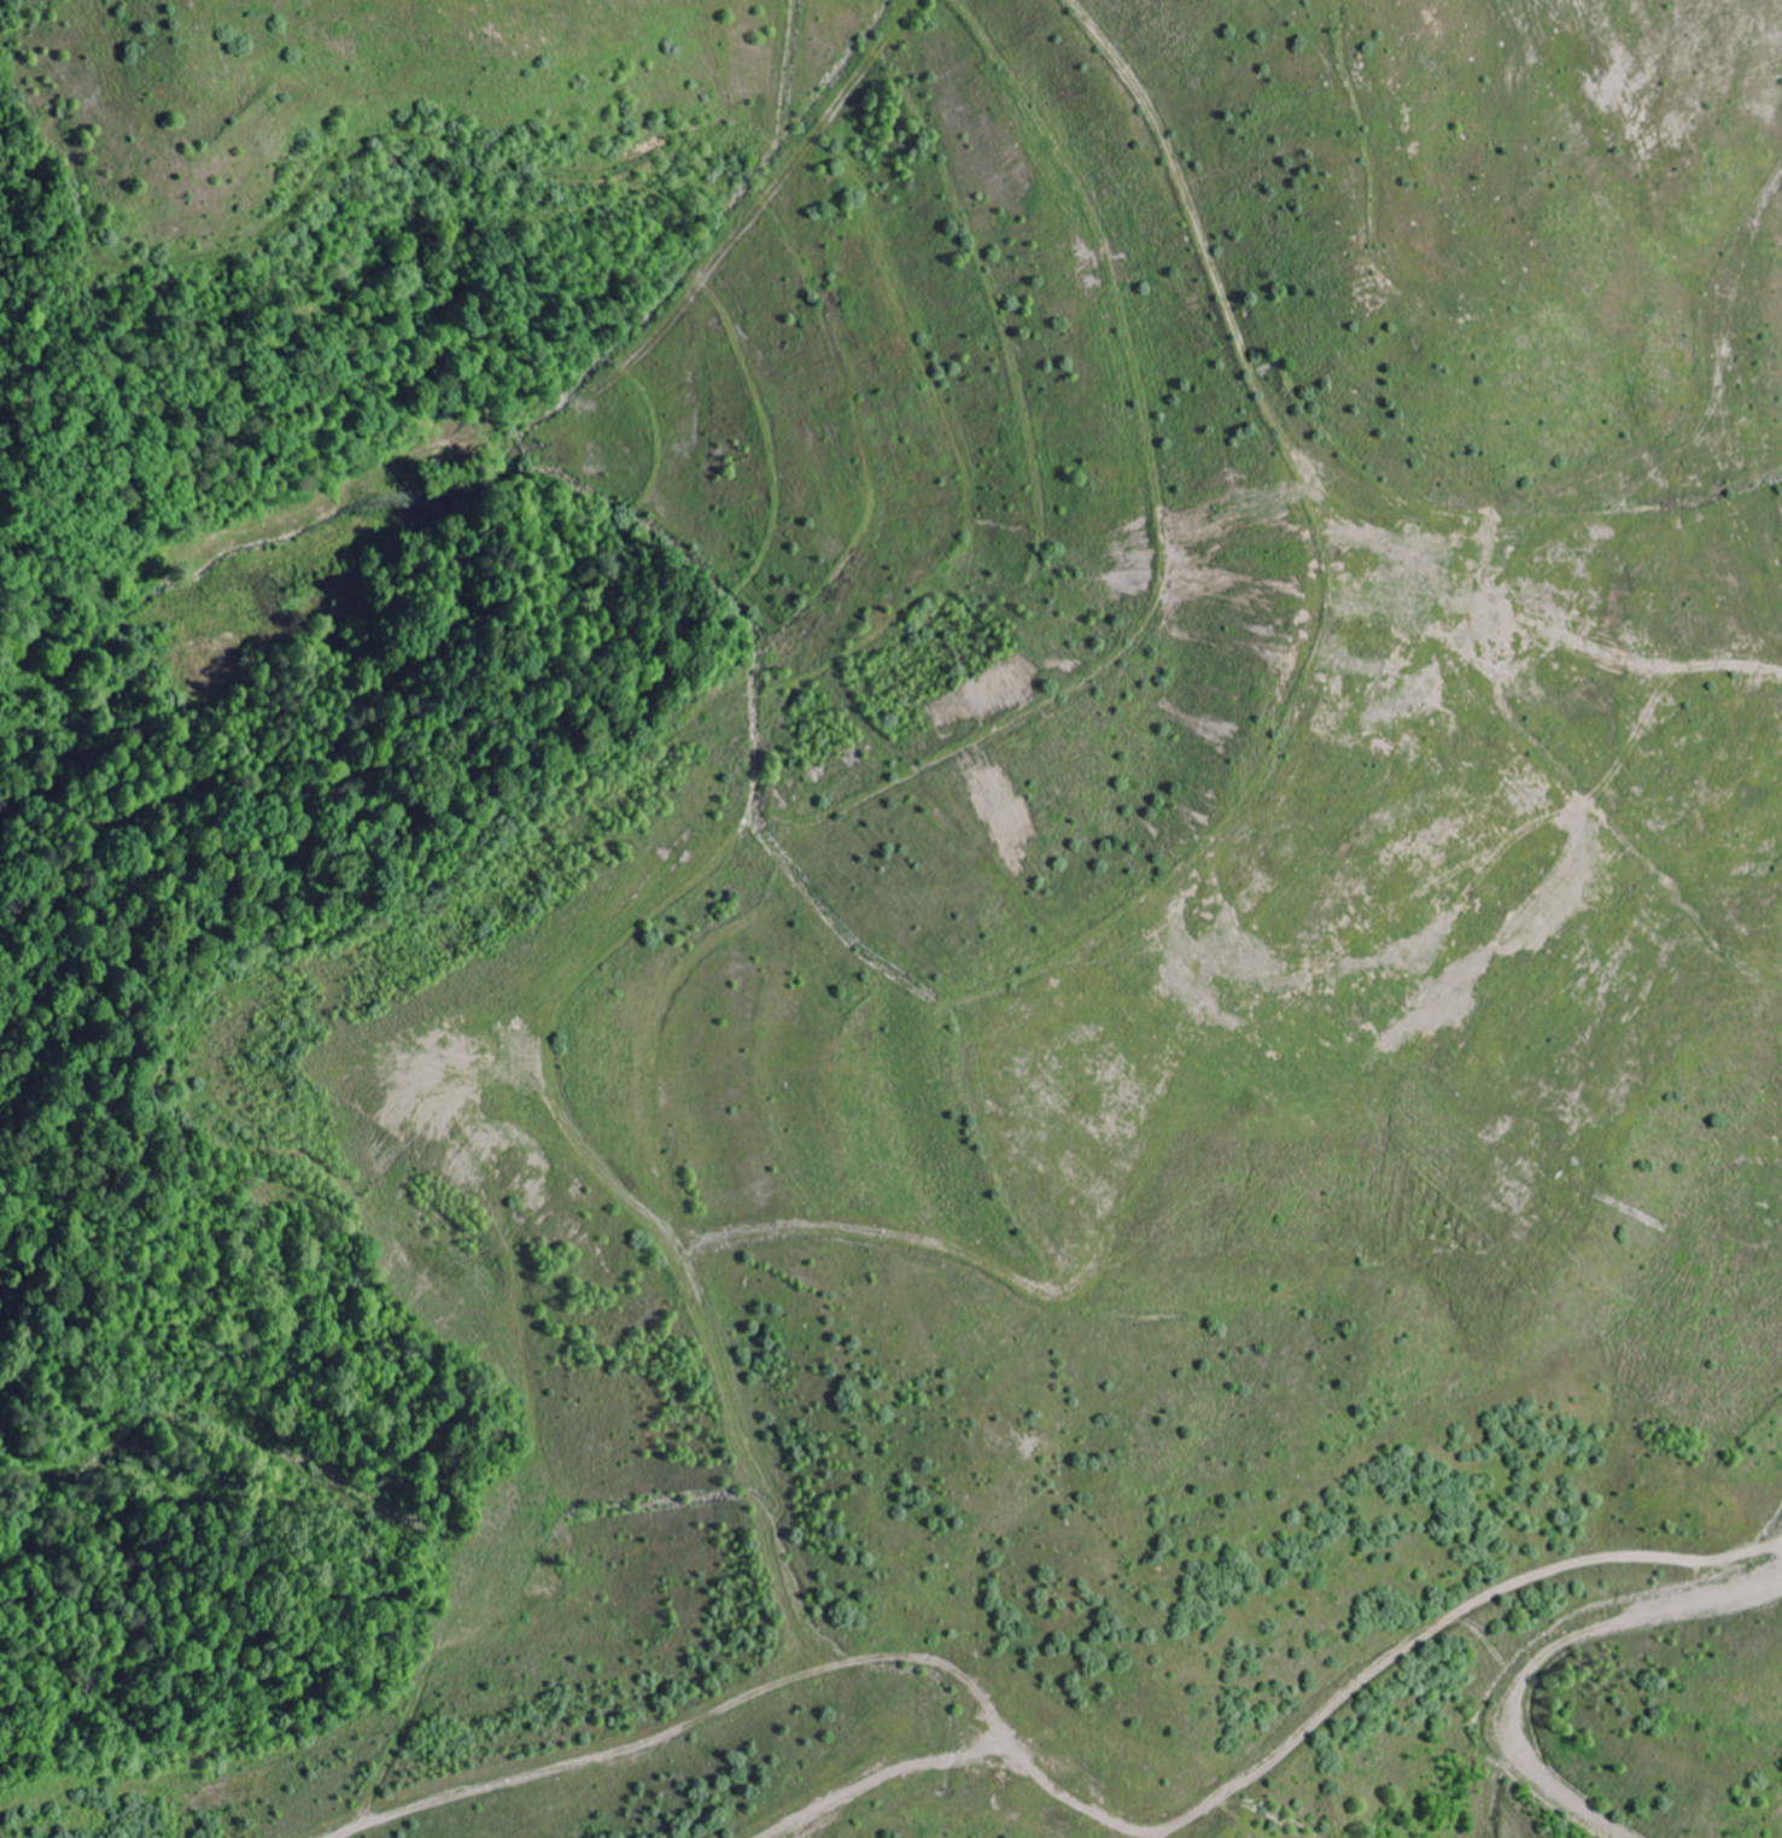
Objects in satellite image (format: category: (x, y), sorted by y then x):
quarry: (892, 918)

